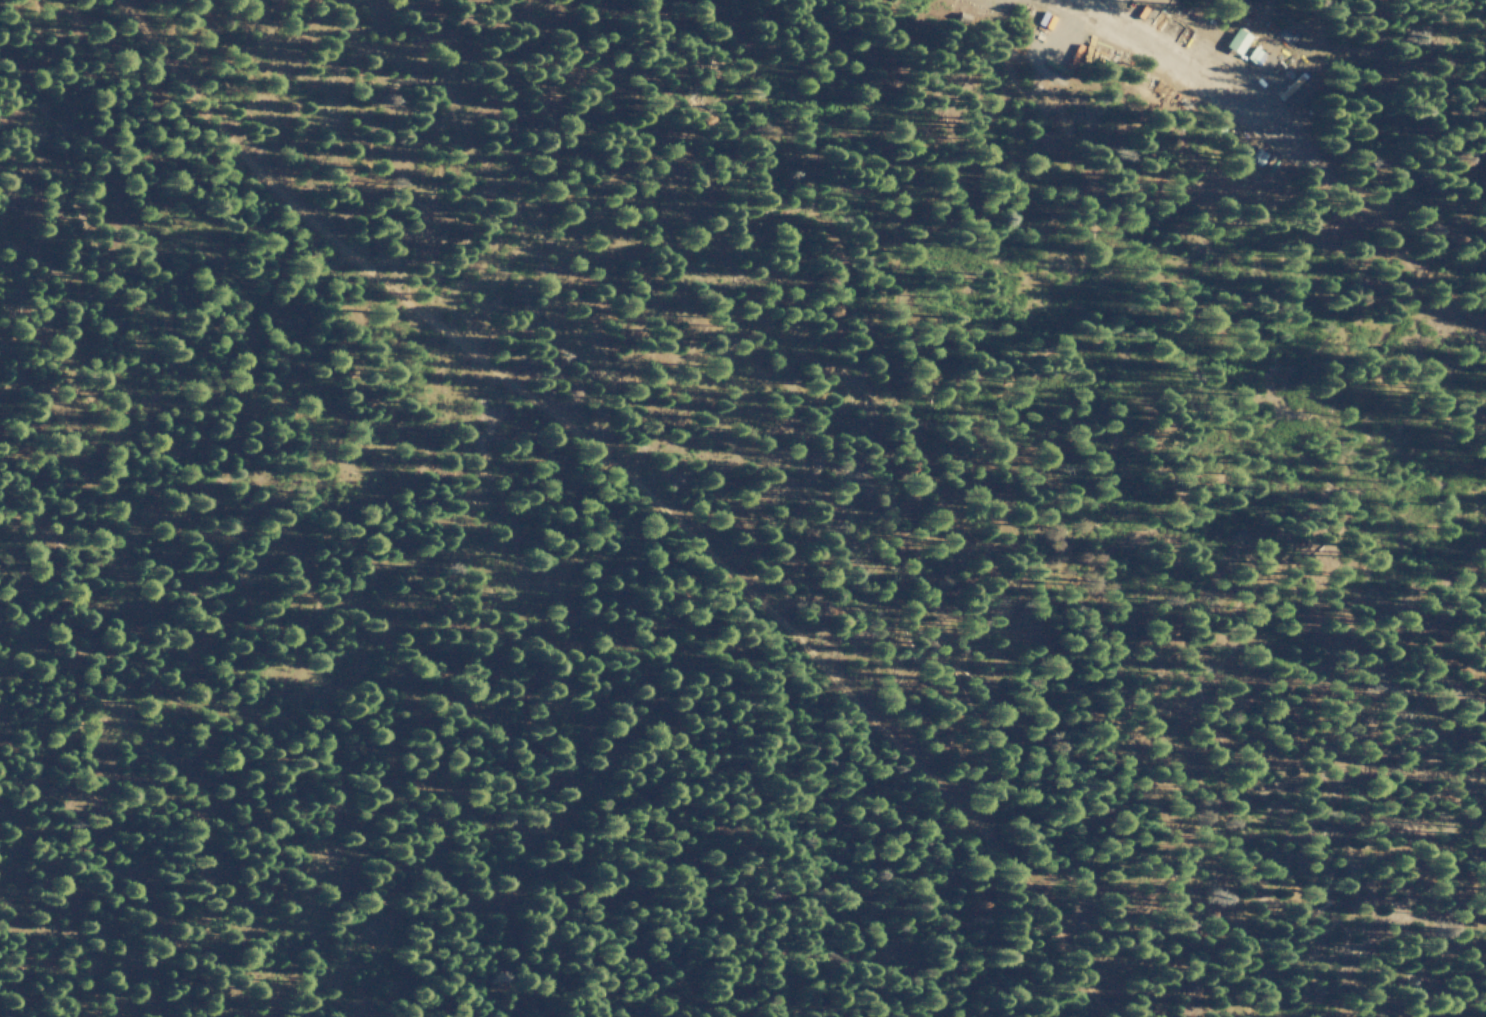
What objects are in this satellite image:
building: (1236, 40)

